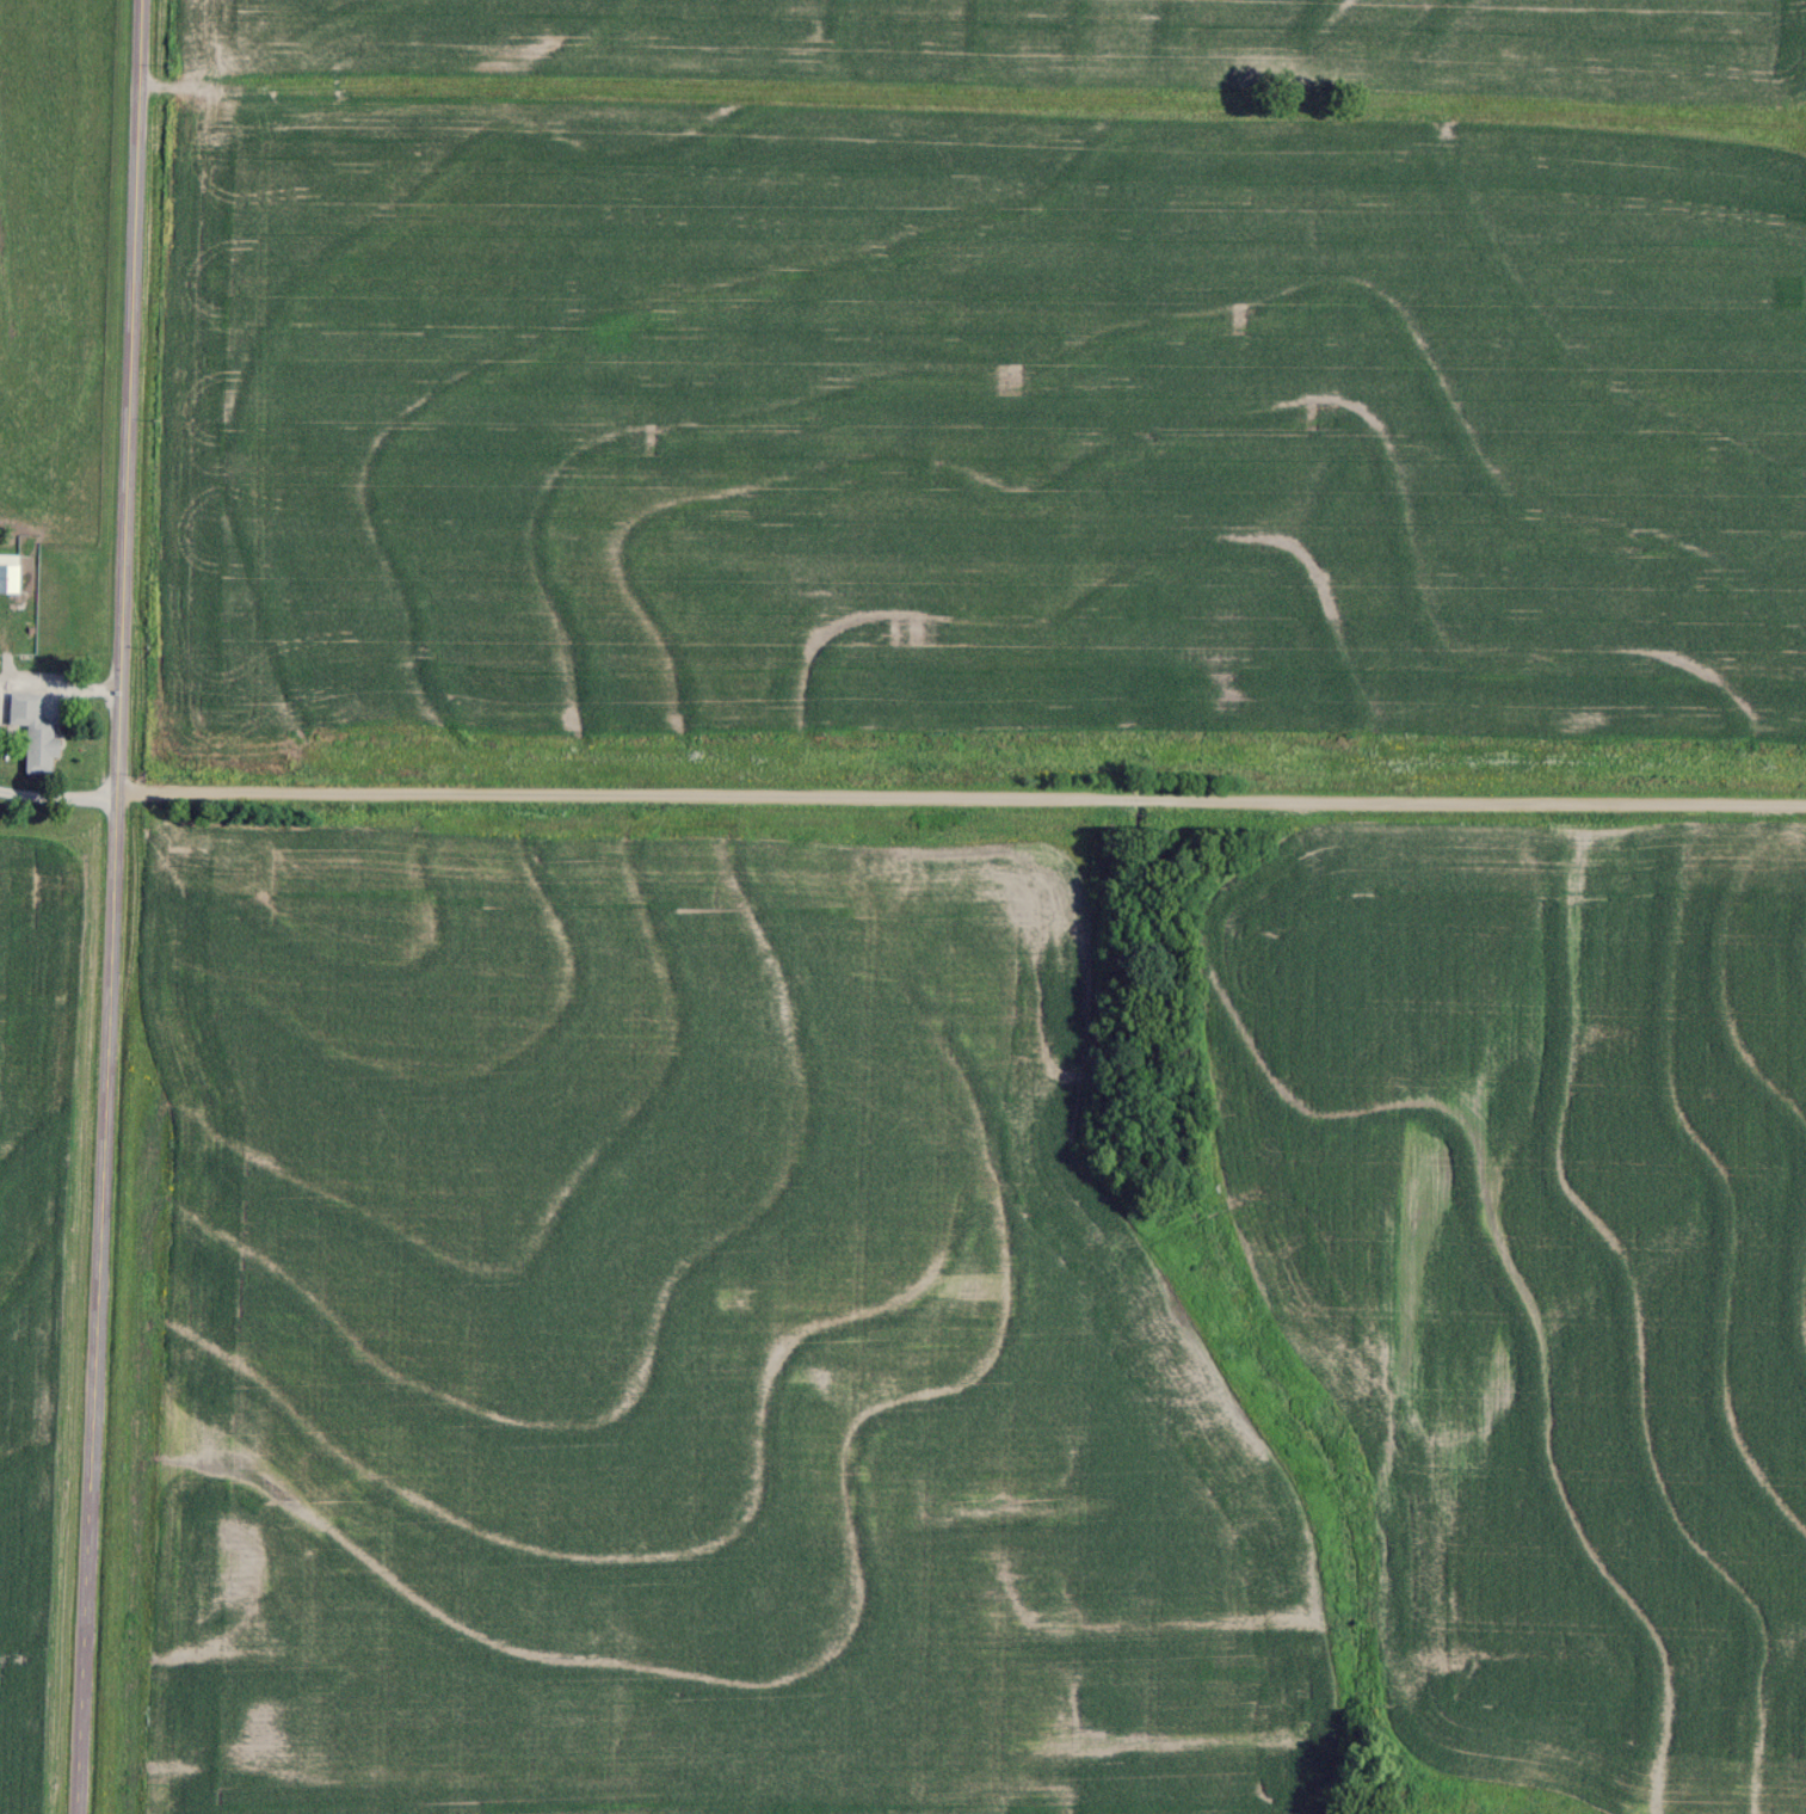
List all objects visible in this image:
building: (11, 573)
building: (37, 732)
road: (57, 797)
road: (960, 800)
road: (112, 906)
crop: (679, 1341)

